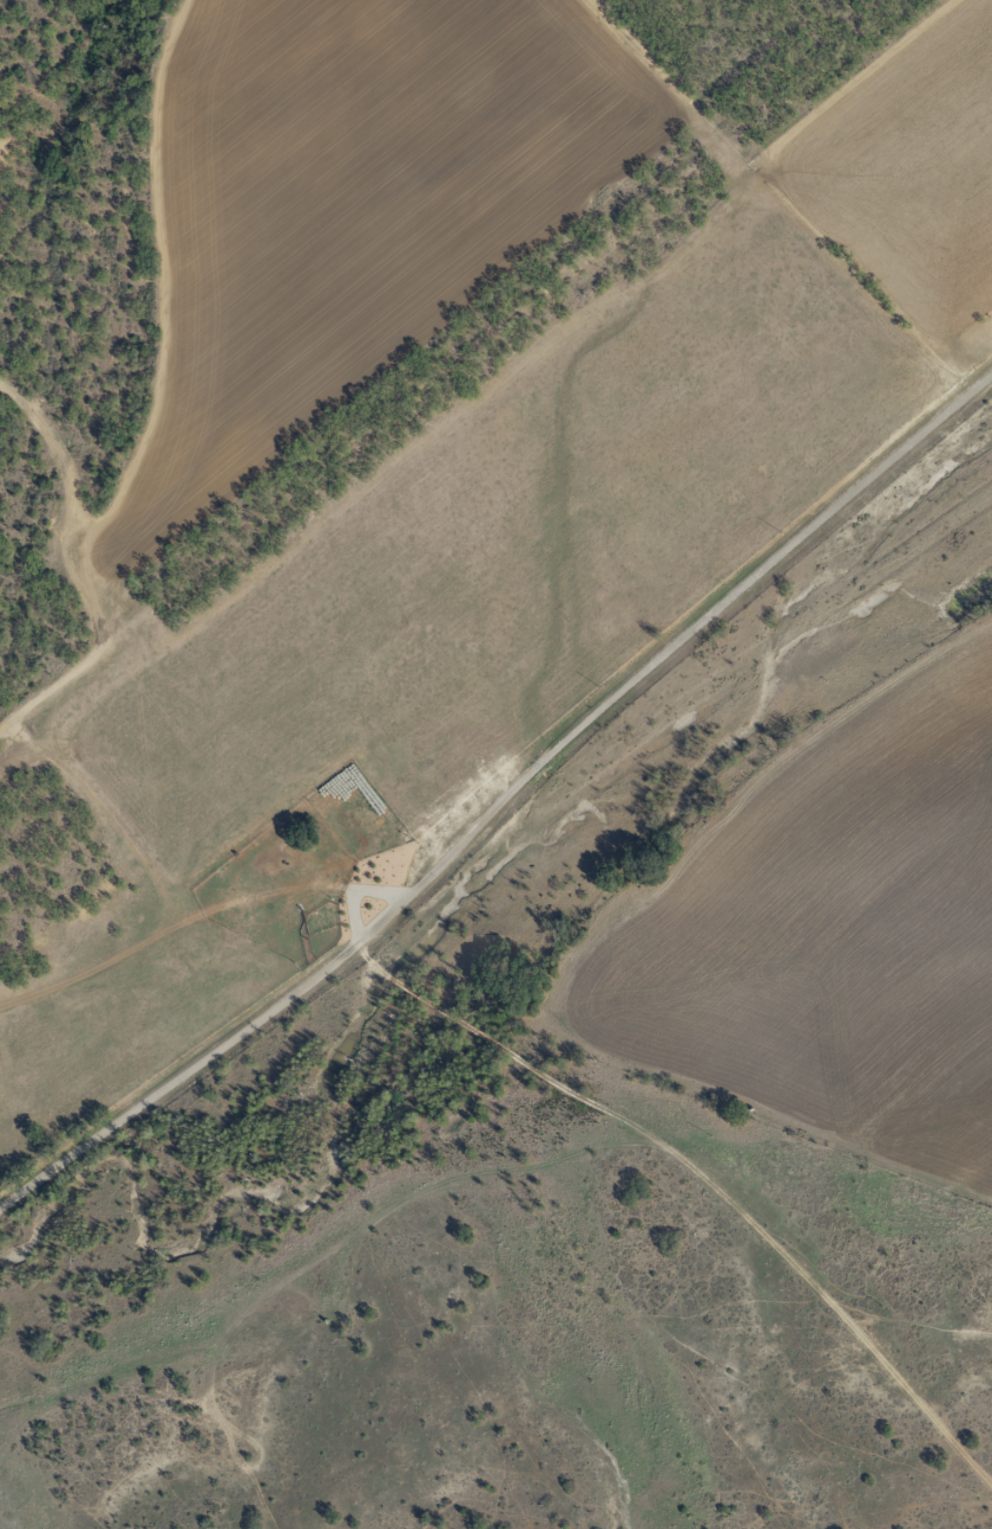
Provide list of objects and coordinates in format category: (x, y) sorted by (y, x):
railway: (439, 360)
road: (504, 783)
crop: (828, 940)
road: (691, 1169)

